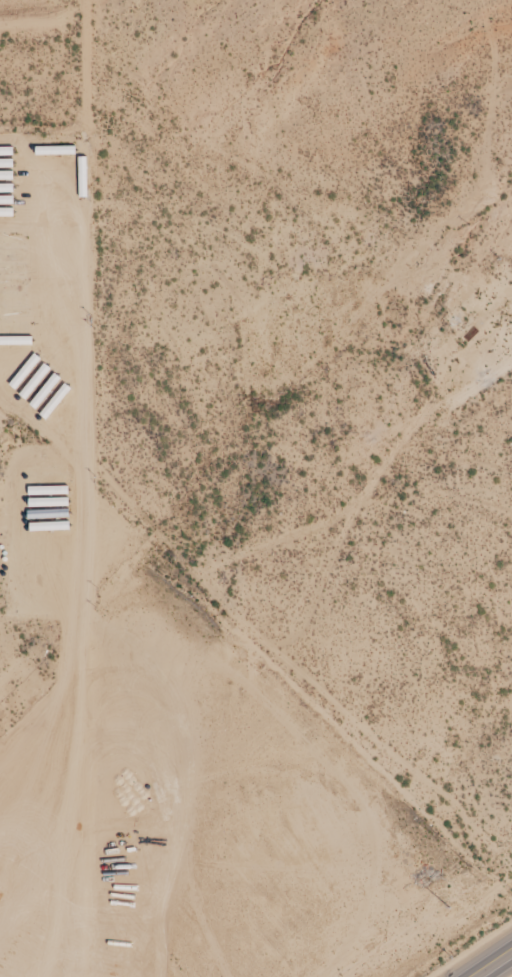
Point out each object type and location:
building: (7, 163)
building: (7, 200)
building: (12, 239)
building: (13, 282)
building: (13, 297)
building: (15, 326)
building: (16, 340)
power tower: (451, 910)
road: (497, 967)

